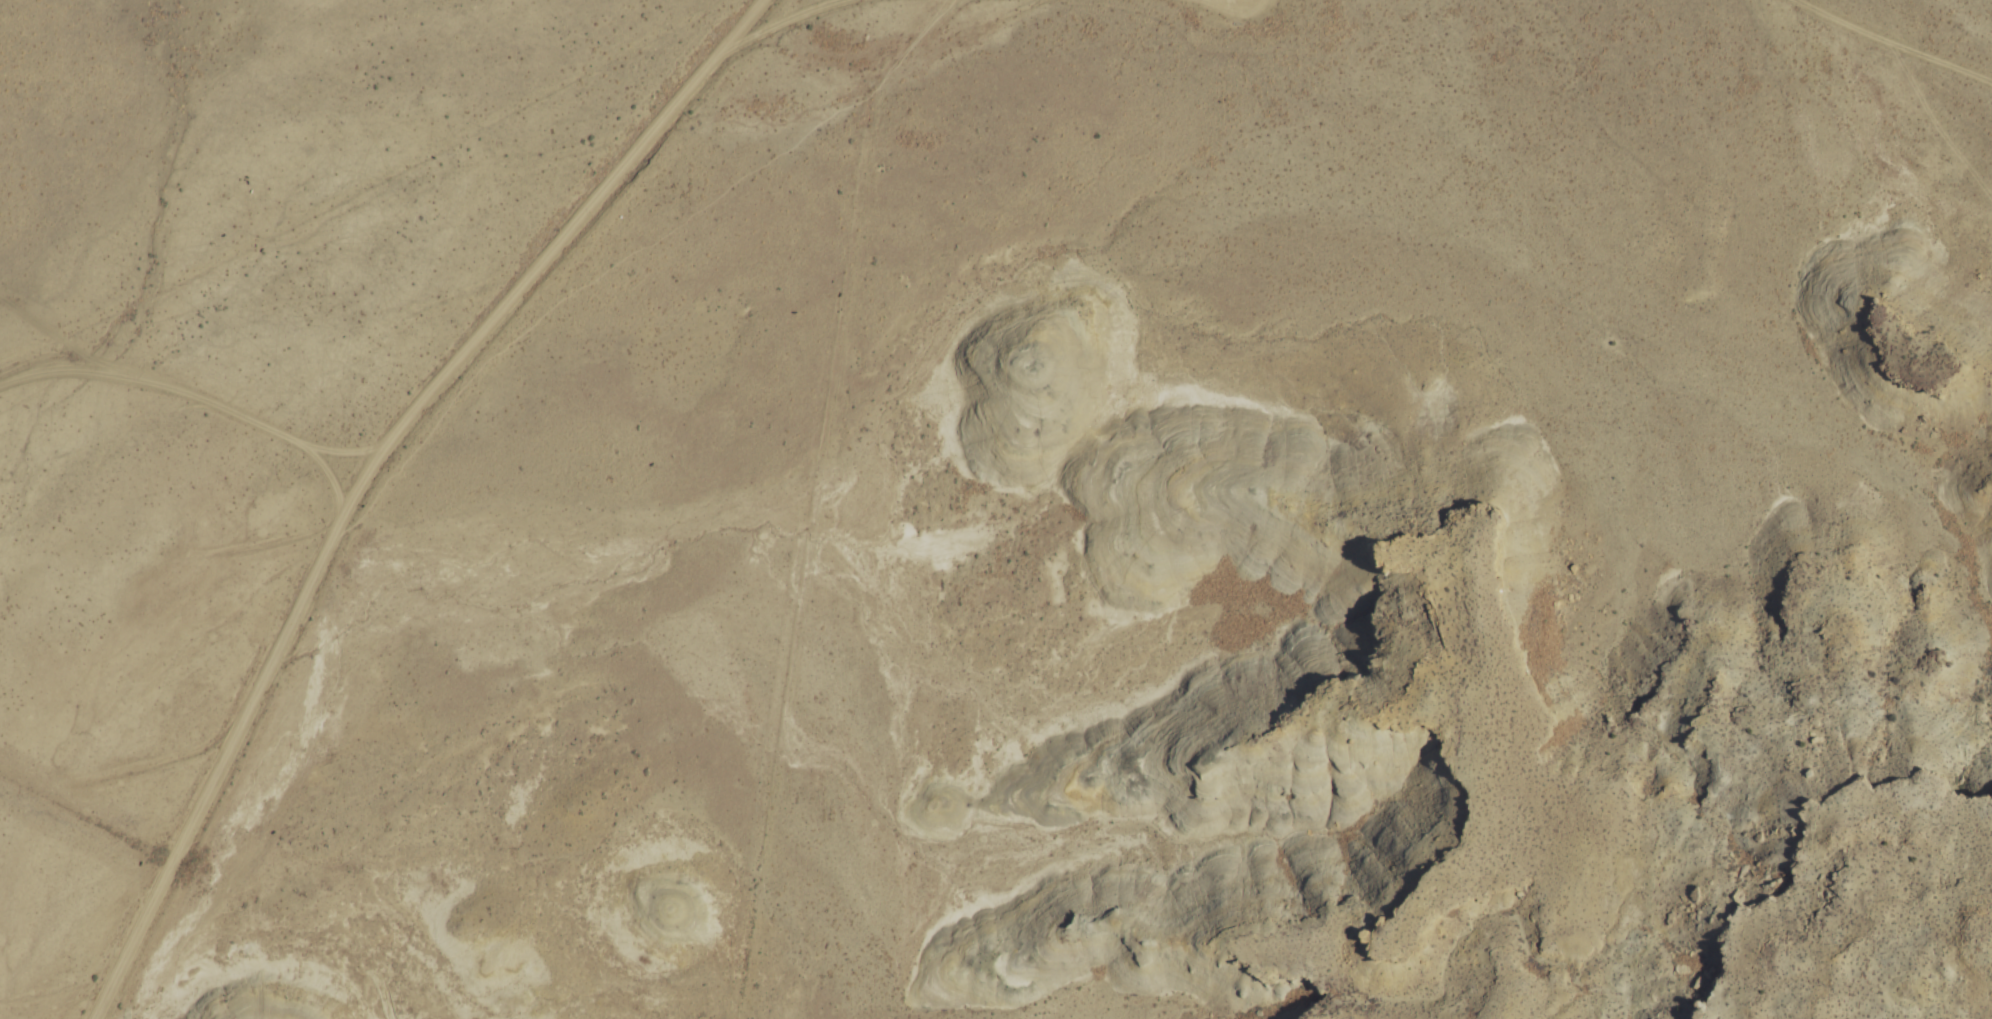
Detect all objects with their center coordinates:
road: (1247, 3)
road: (772, 20)
road: (1901, 38)
road: (97, 350)
road: (197, 391)
road: (346, 446)
road: (367, 471)

